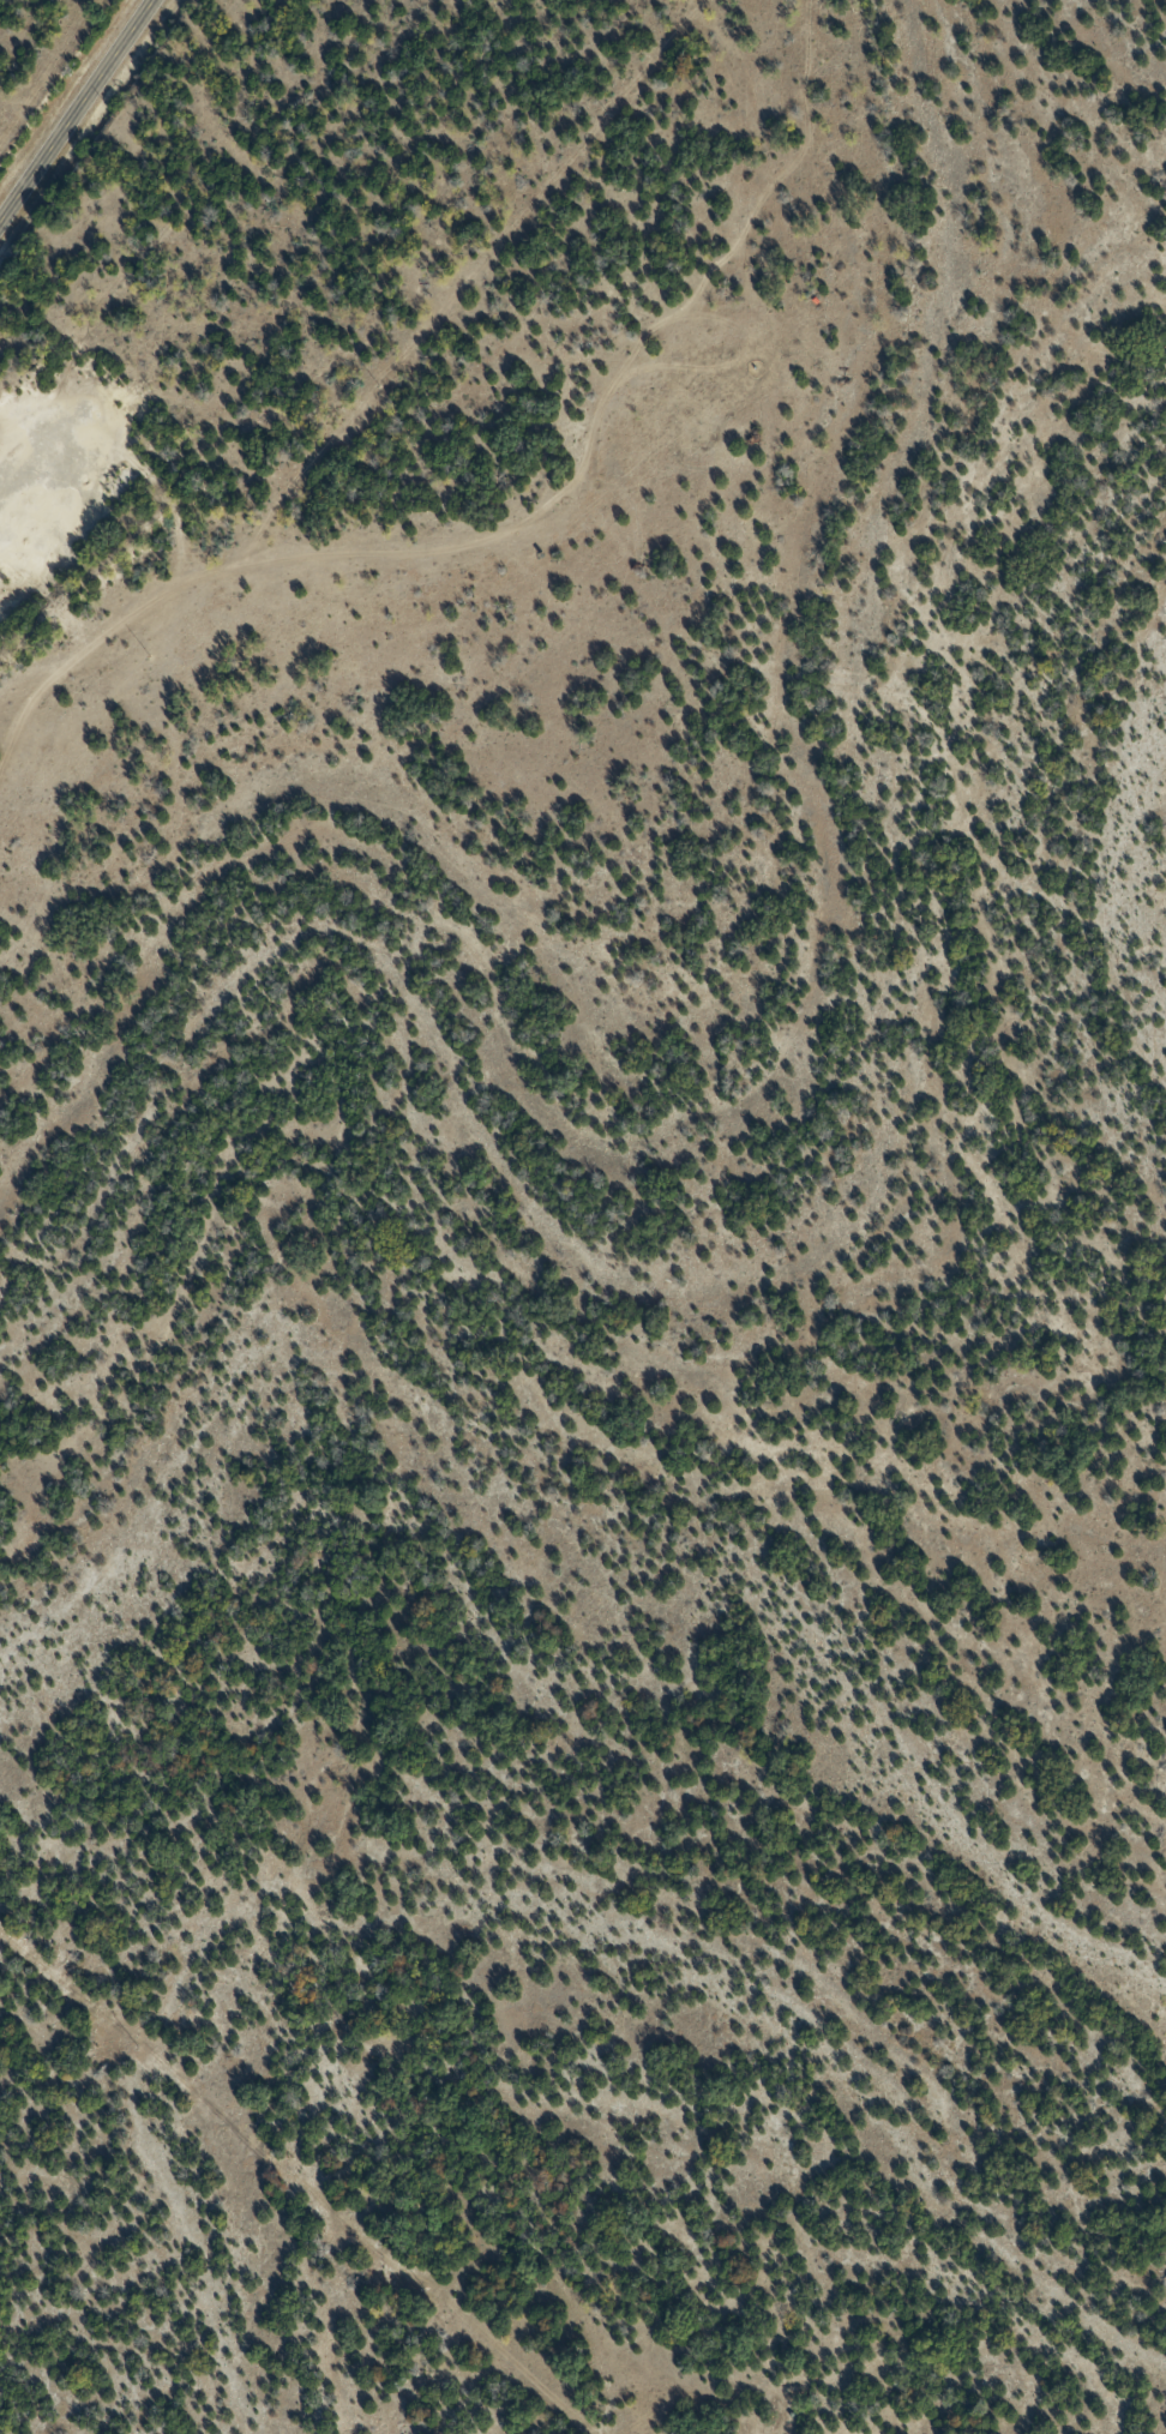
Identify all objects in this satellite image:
road: (77, 112)

